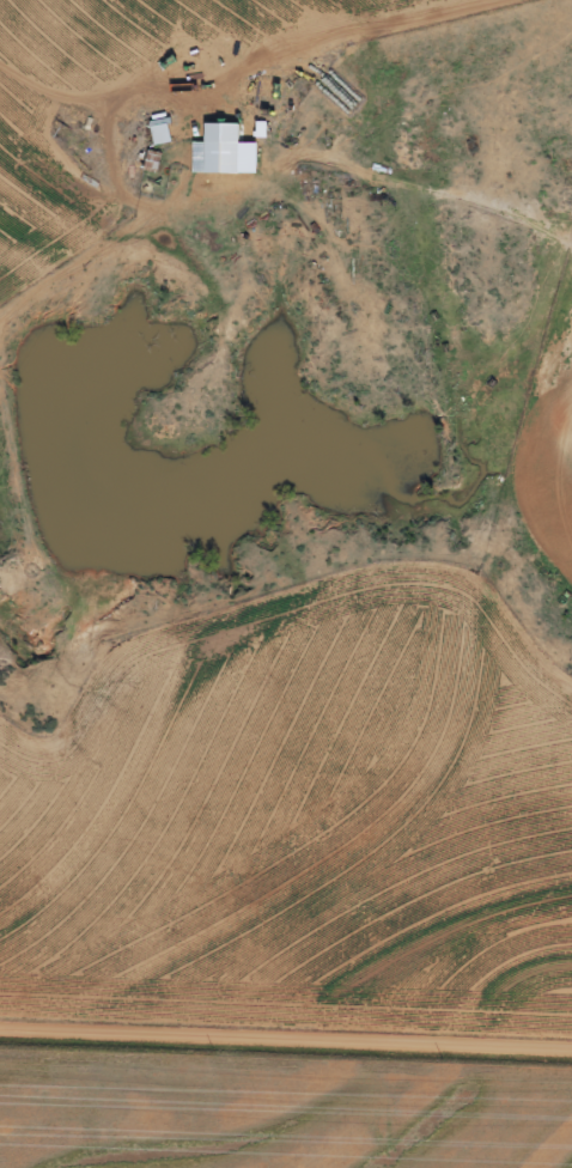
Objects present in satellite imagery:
road: (55, 98)
building: (159, 130)
building: (217, 147)
road: (286, 1030)

